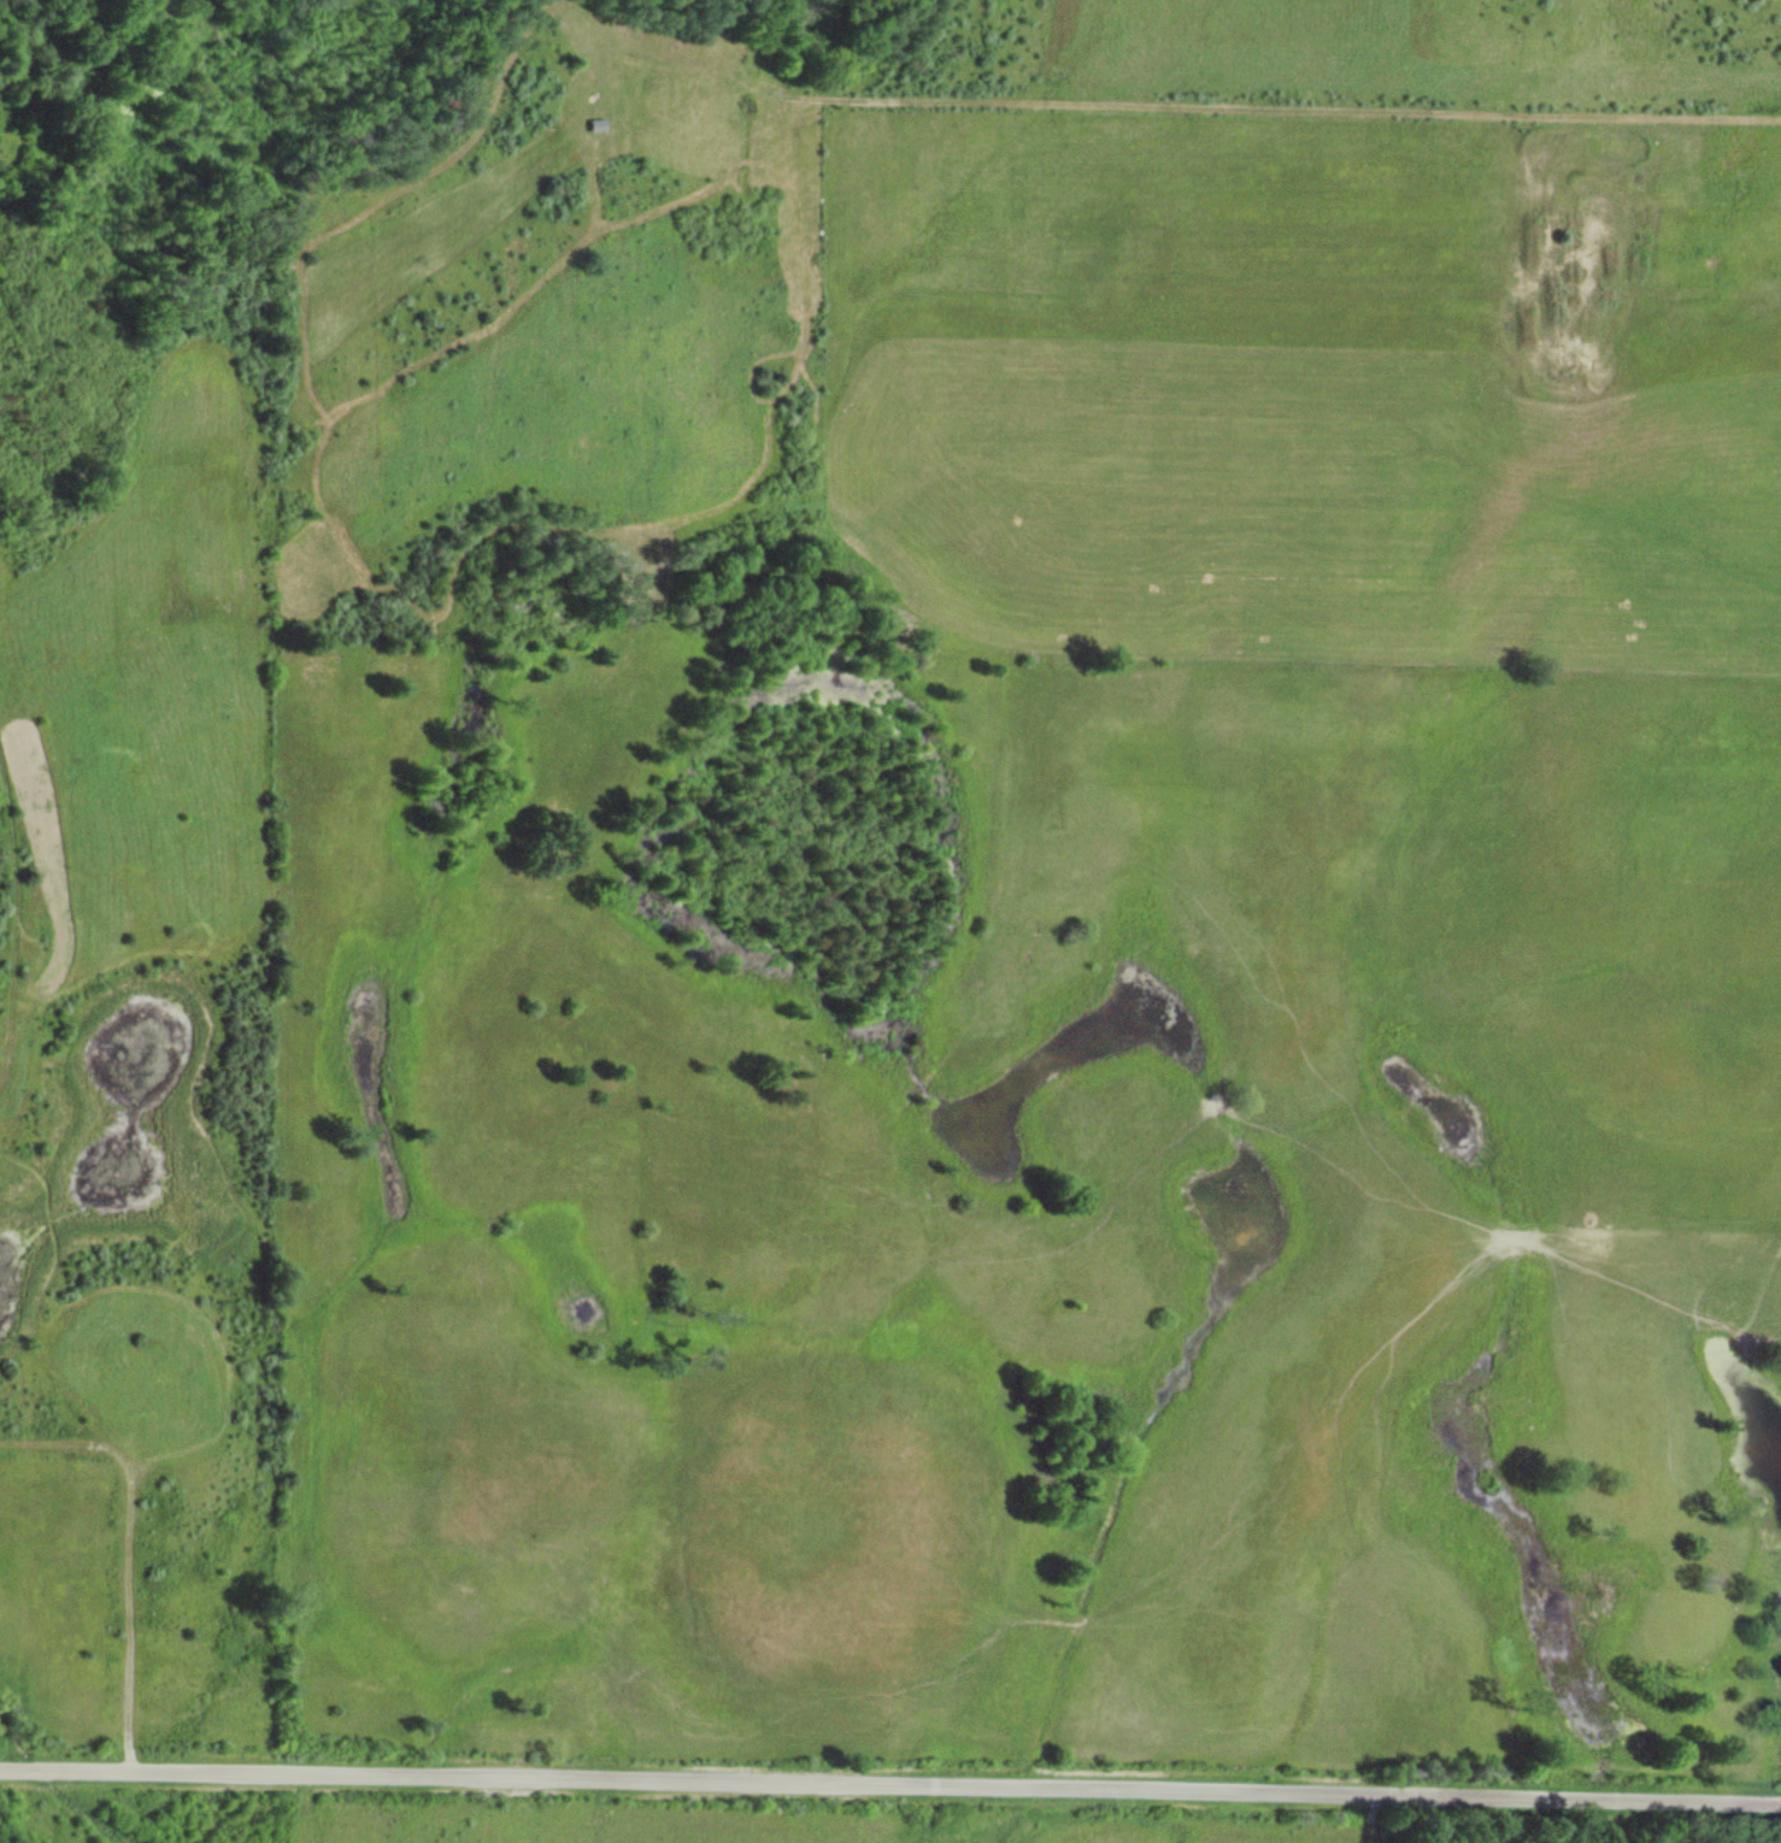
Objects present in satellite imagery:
road: (890, 1776)

